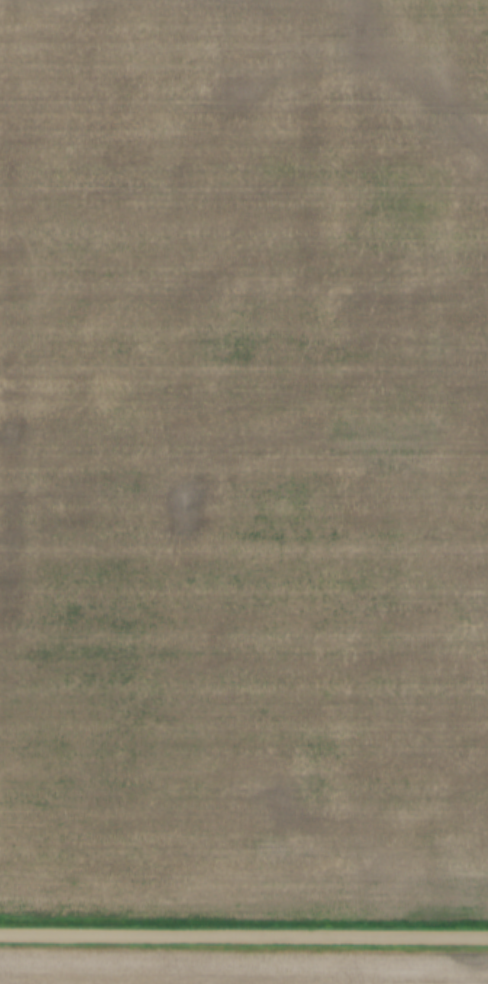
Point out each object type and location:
road: (244, 934)

